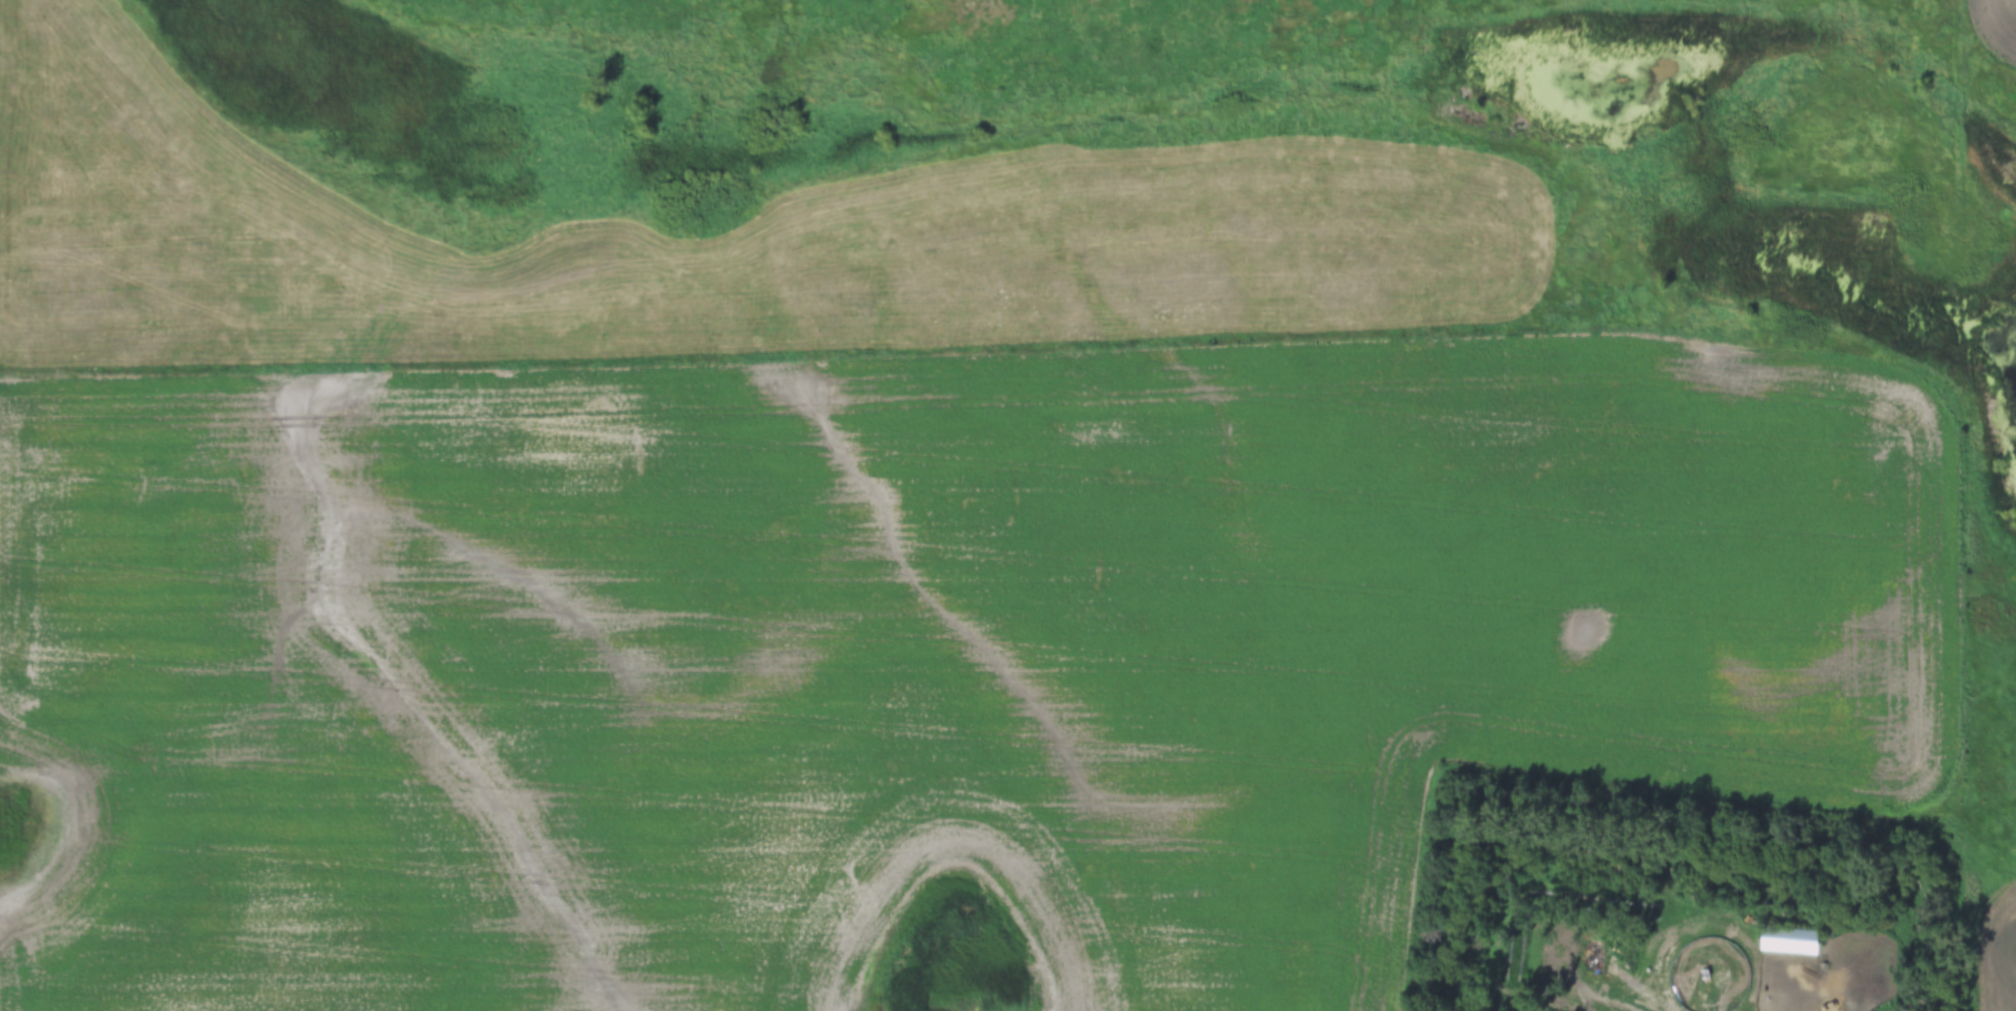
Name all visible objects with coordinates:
building: (1788, 941)

